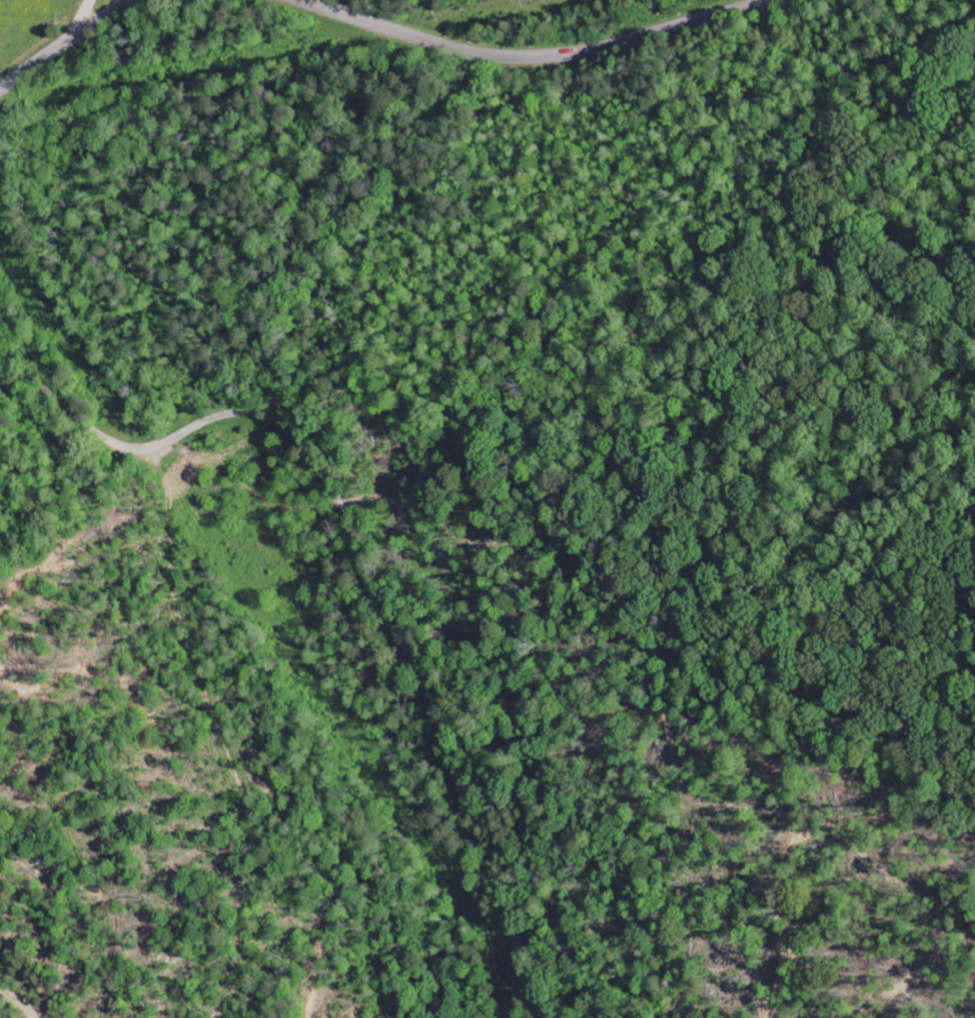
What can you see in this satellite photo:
road: (63, 43)
road: (535, 56)
road: (364, 564)

